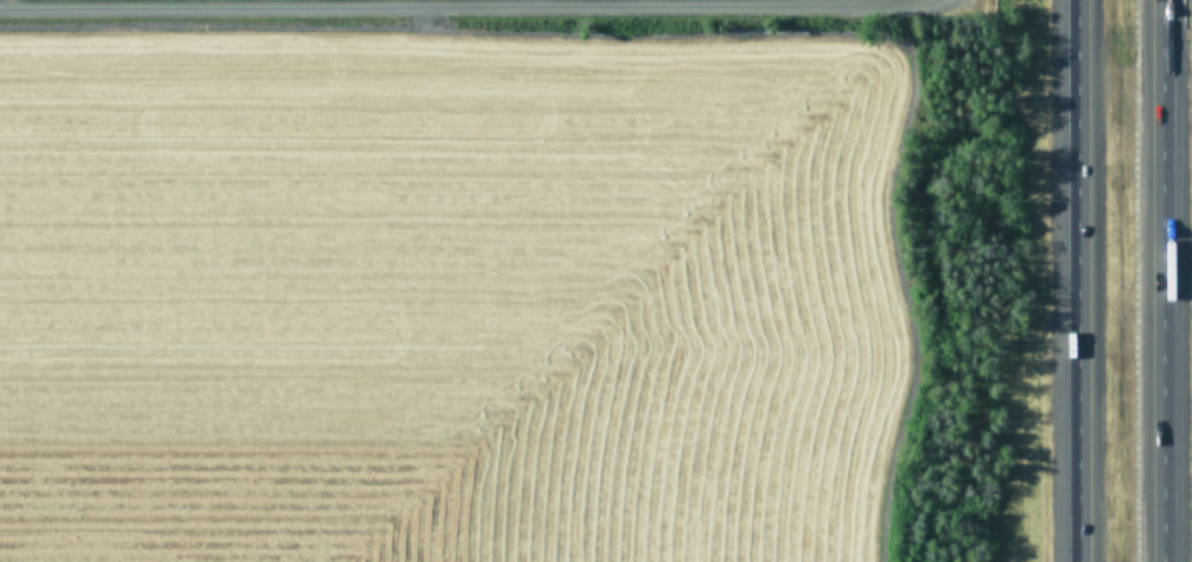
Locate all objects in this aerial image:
road: (120, 1)
crop: (483, 281)
road: (1078, 281)
road: (1158, 281)

